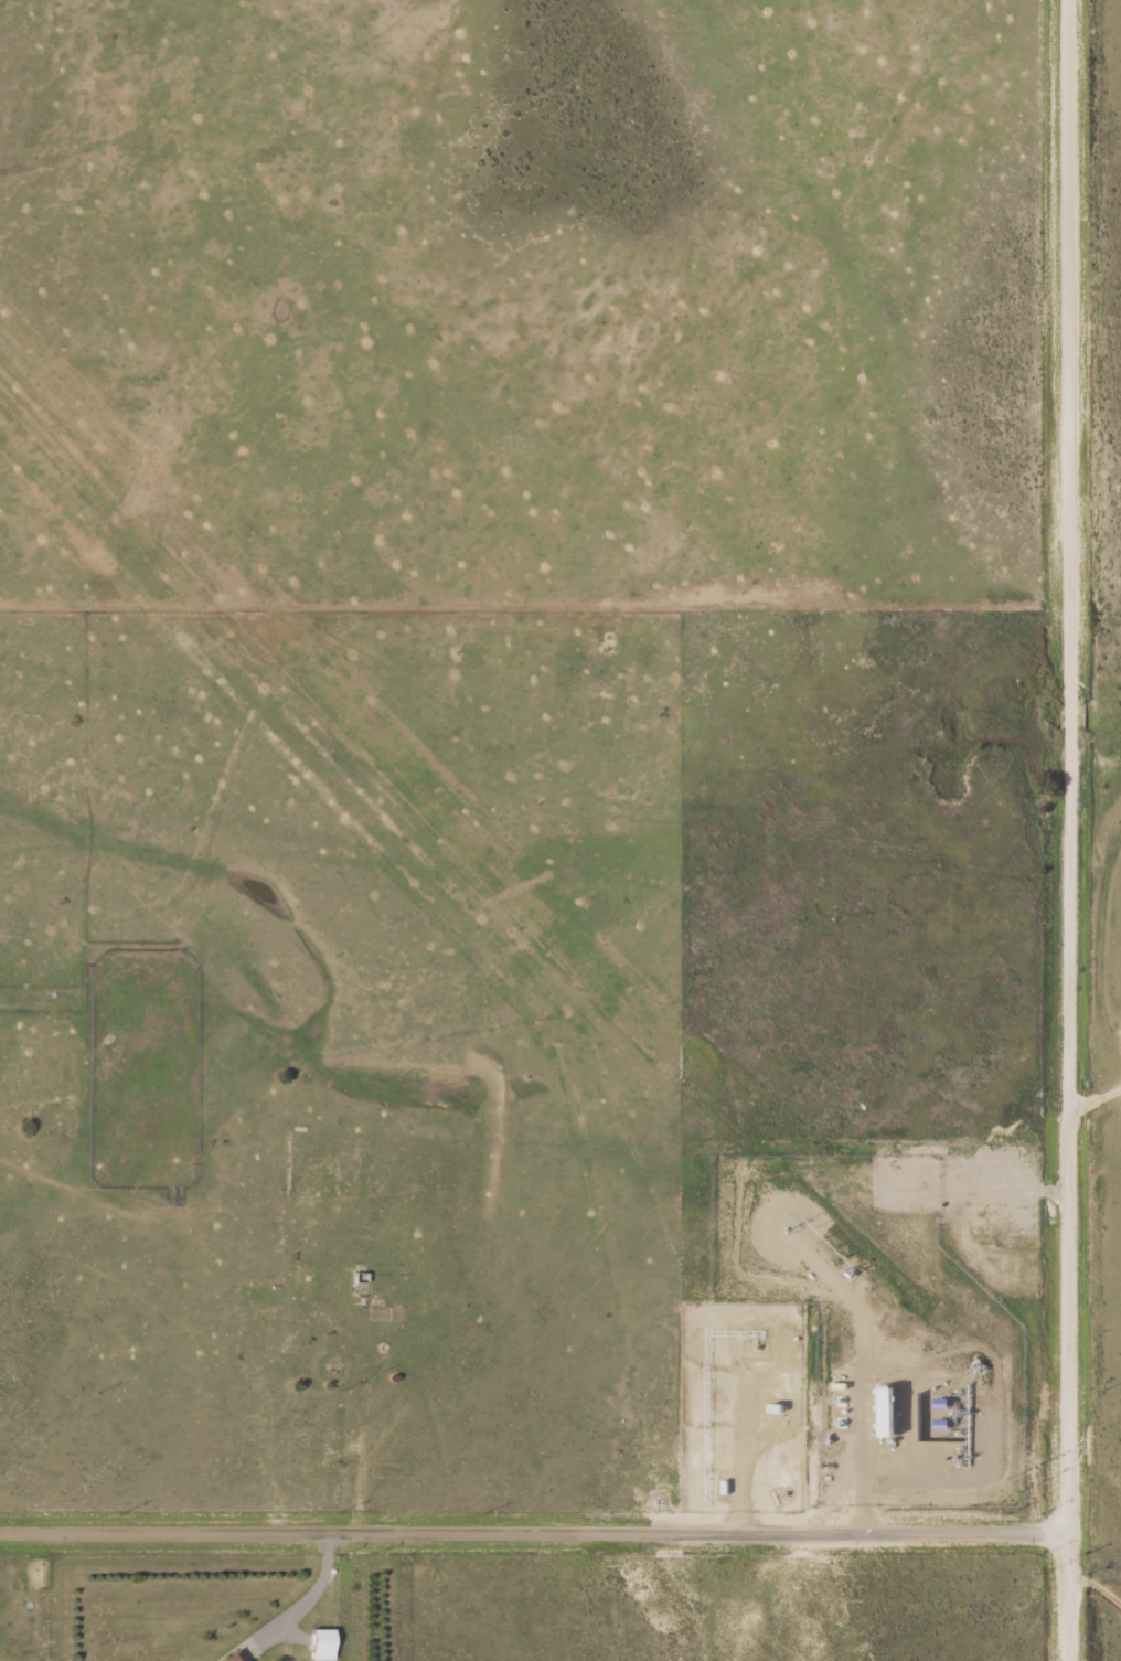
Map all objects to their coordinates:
road: (1070, 830)
road: (535, 1531)
building: (322, 1644)

